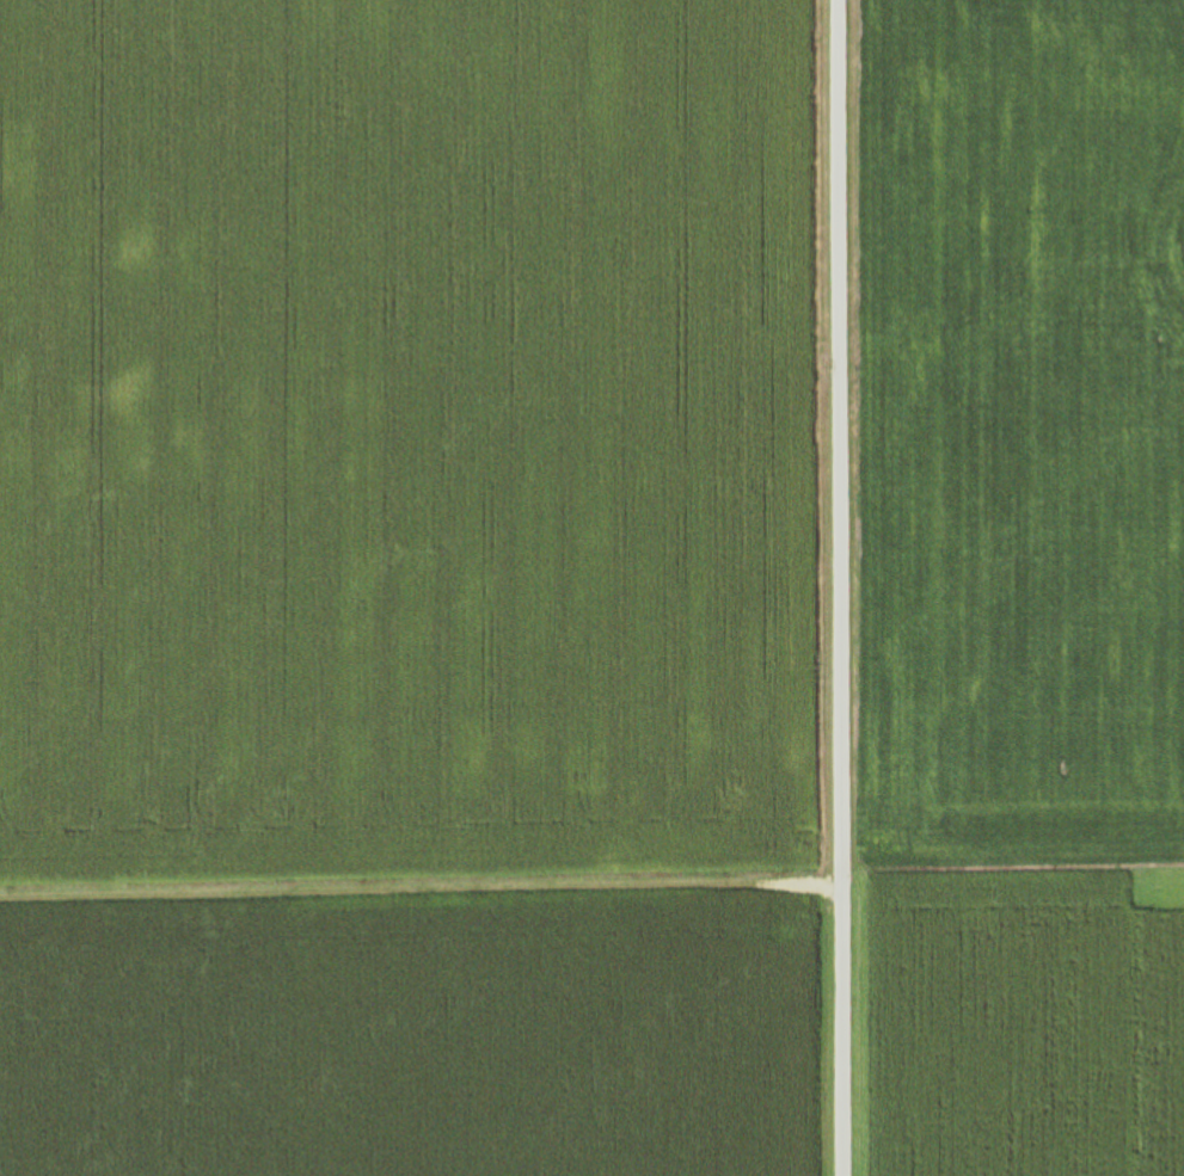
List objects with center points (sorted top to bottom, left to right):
road: (836, 587)

